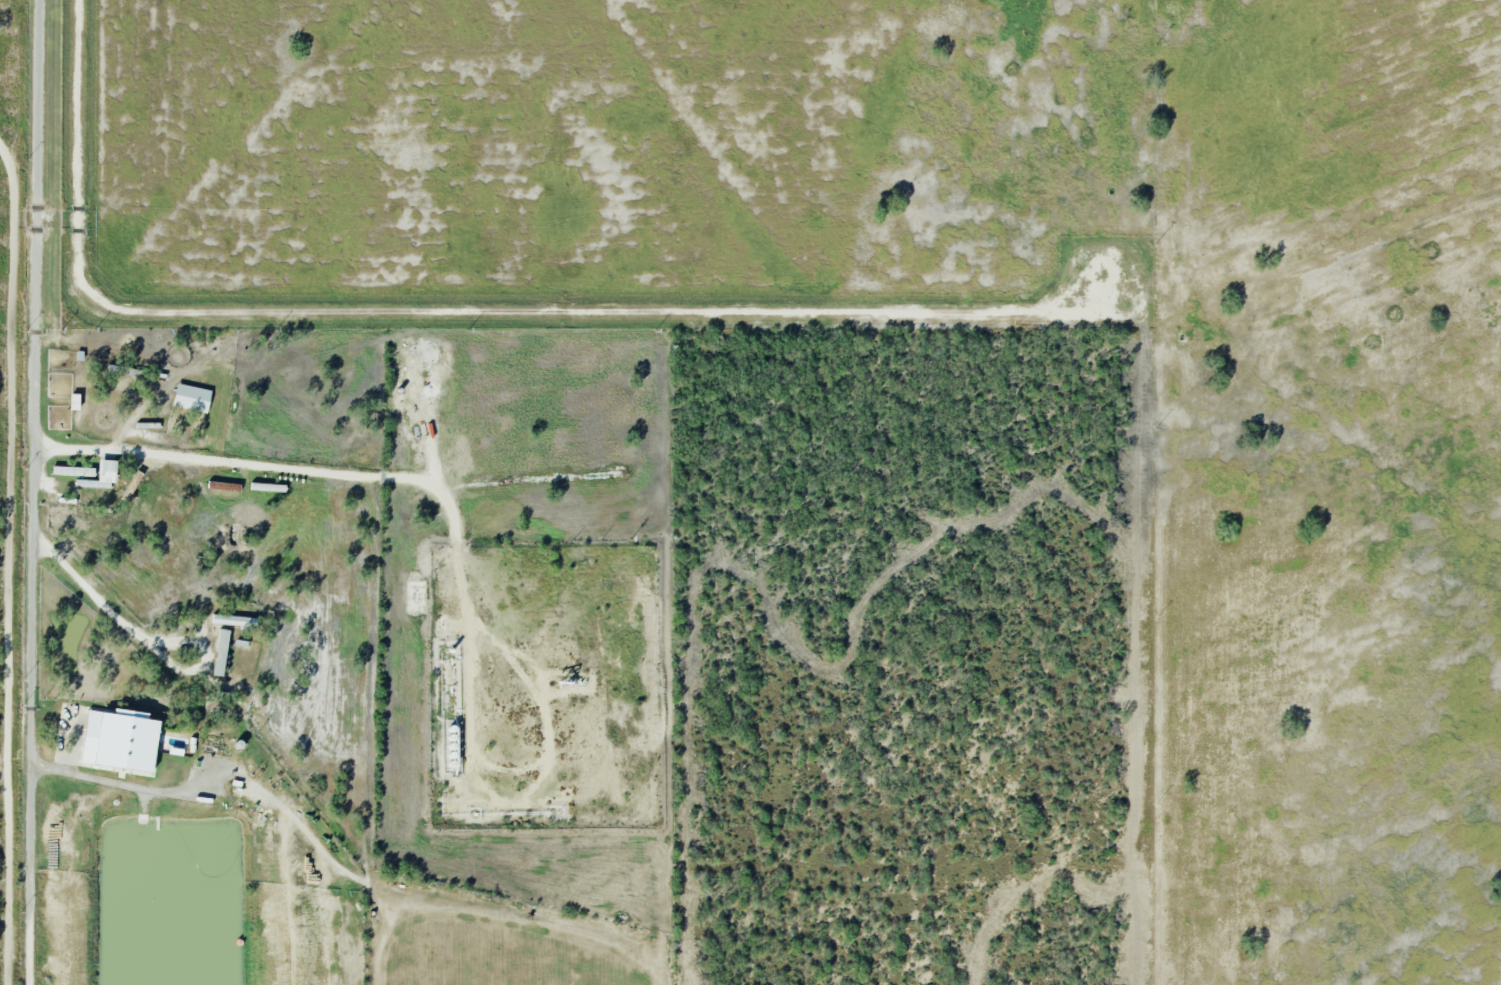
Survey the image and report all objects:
building: (192, 399)
road: (31, 454)
building: (107, 470)
building: (73, 471)
building: (225, 485)
building: (267, 486)
building: (233, 621)
building: (223, 651)
building: (121, 739)
road: (29, 947)

